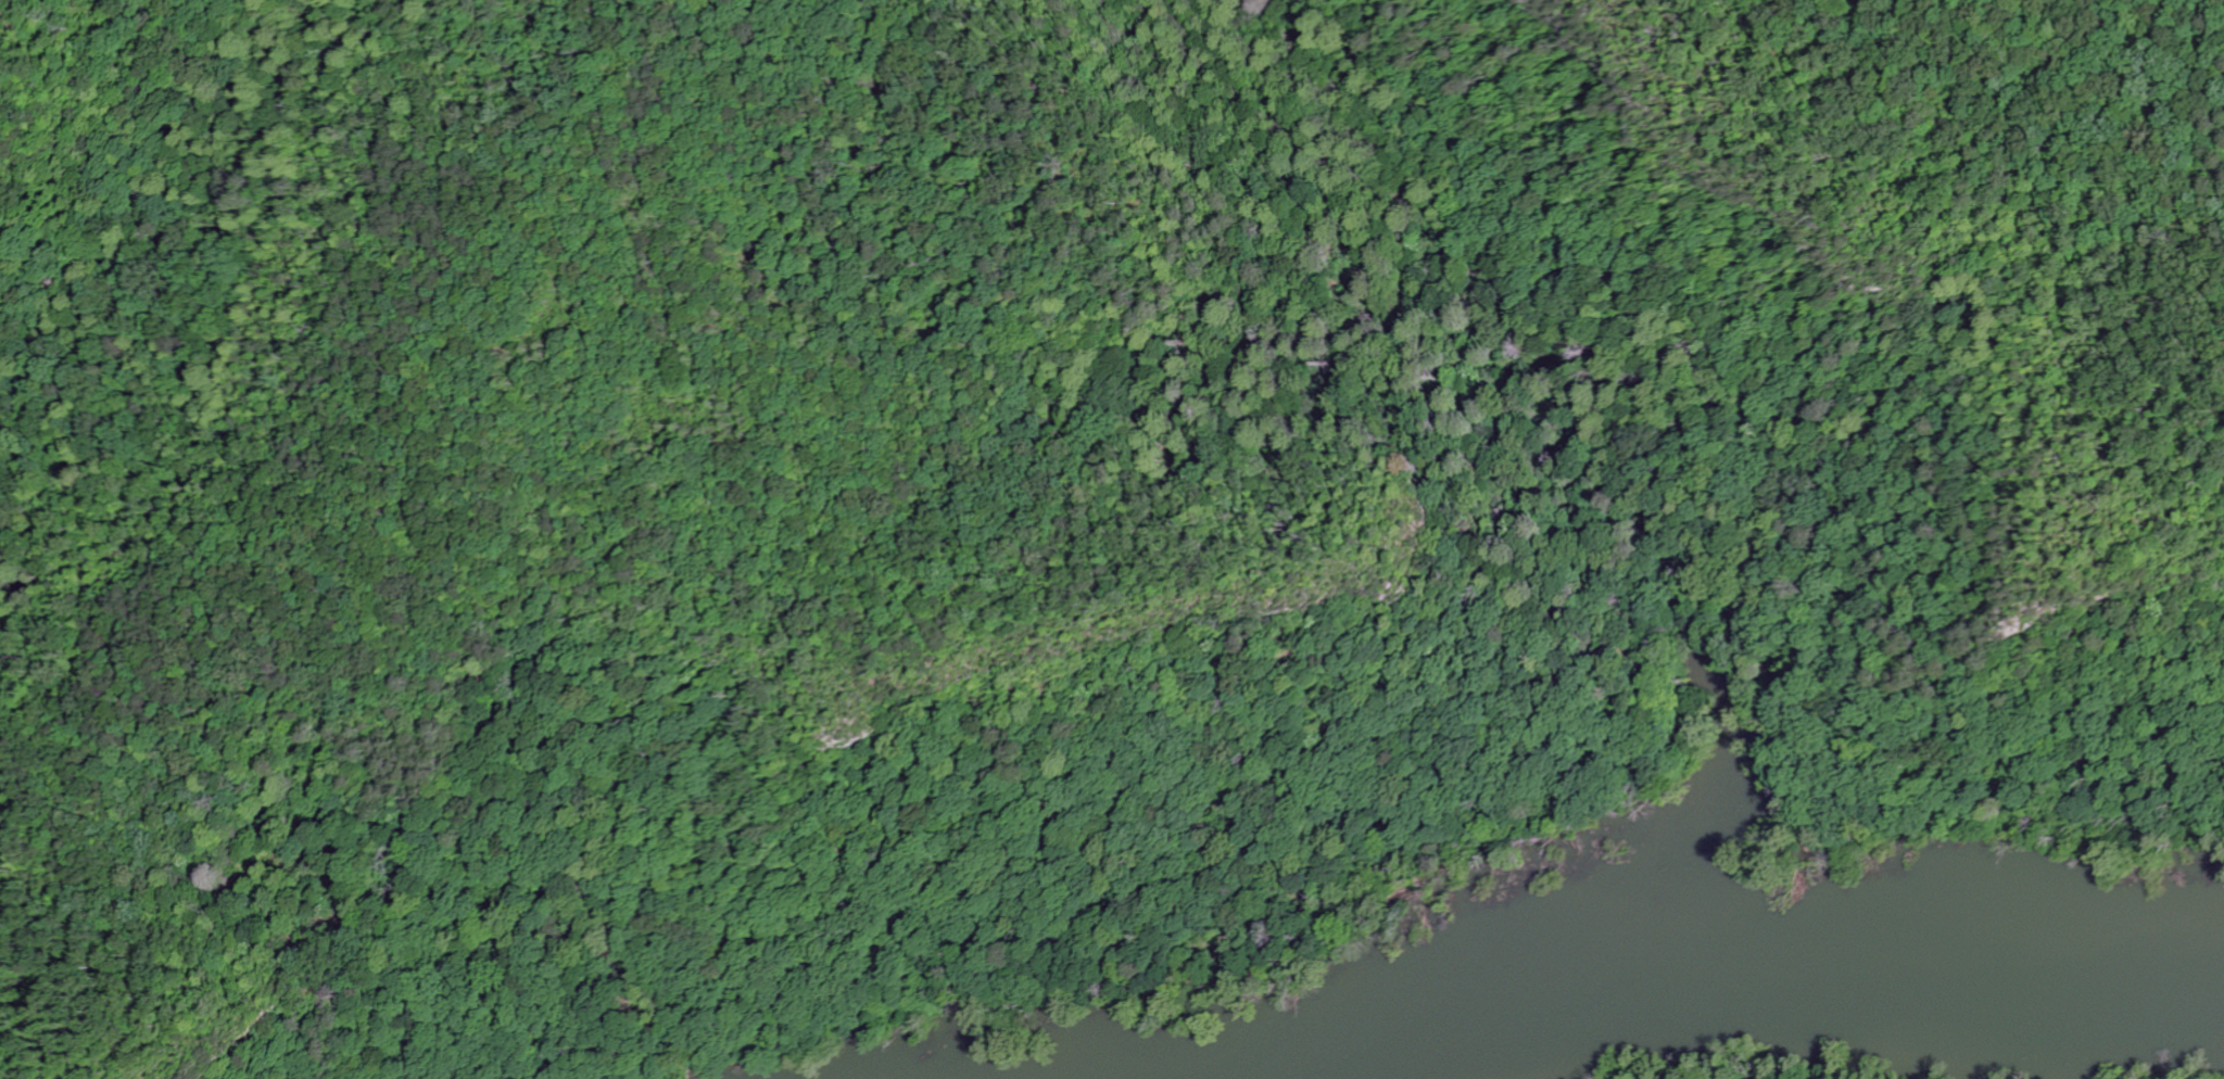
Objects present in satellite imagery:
river: (1791, 982)

